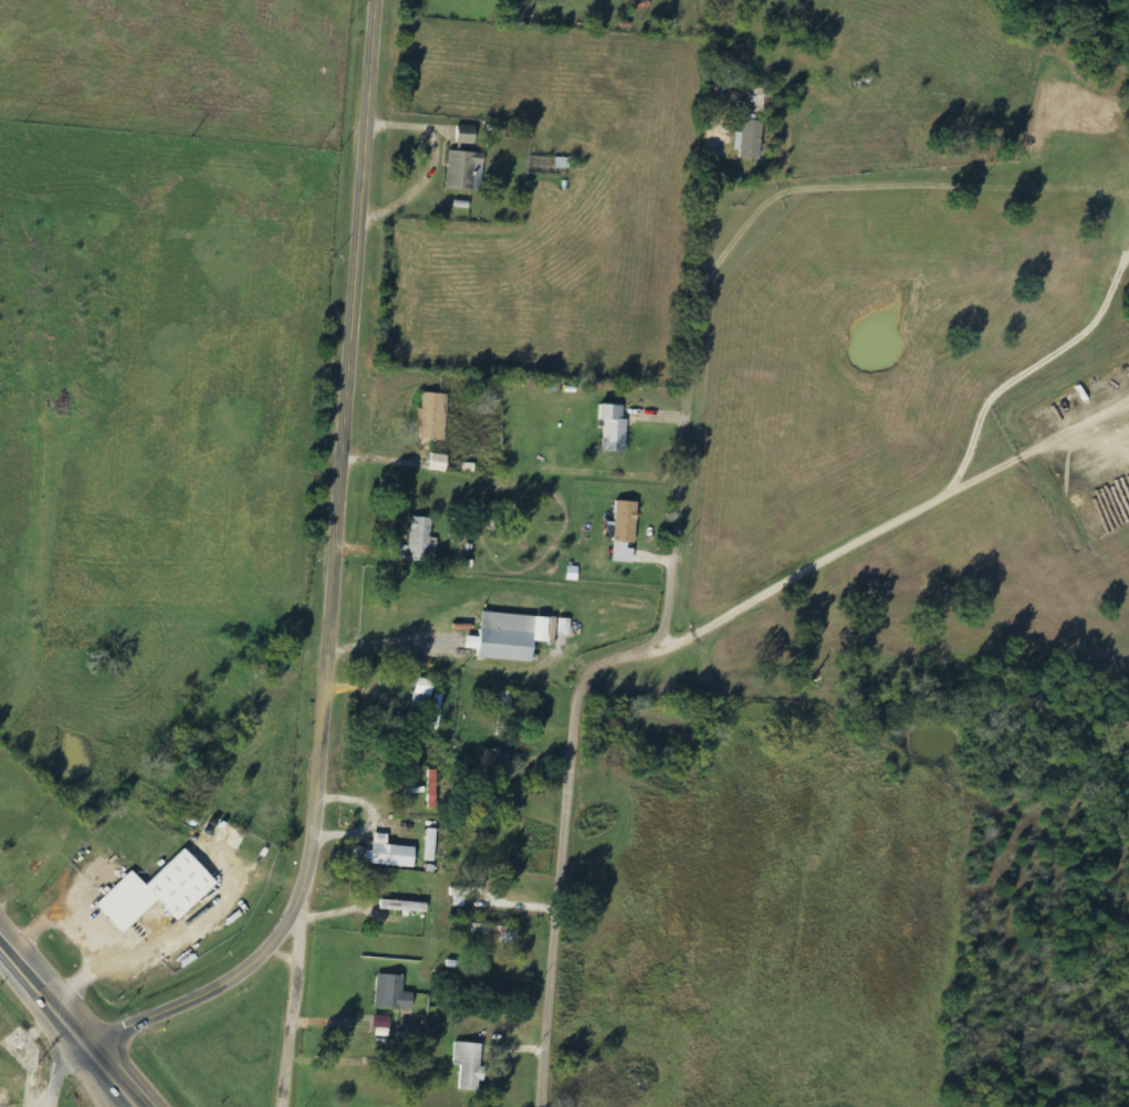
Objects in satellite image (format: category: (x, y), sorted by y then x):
building: (738, 55)
building: (466, 136)
building: (746, 139)
building: (462, 169)
building: (432, 417)
building: (616, 429)
building: (439, 462)
building: (626, 531)
road: (892, 531)
building: (422, 540)
building: (574, 573)
road: (332, 584)
road: (654, 627)
building: (511, 636)
building: (425, 692)
building: (440, 699)
building: (499, 758)
building: (391, 854)
building: (156, 891)
building: (464, 896)
building: (405, 906)
building: (503, 932)
building: (393, 993)
road: (297, 1004)
road: (58, 1013)
building: (383, 1022)
building: (469, 1065)
road: (61, 1074)
road: (115, 1098)
road: (118, 1098)
road: (119, 1098)

